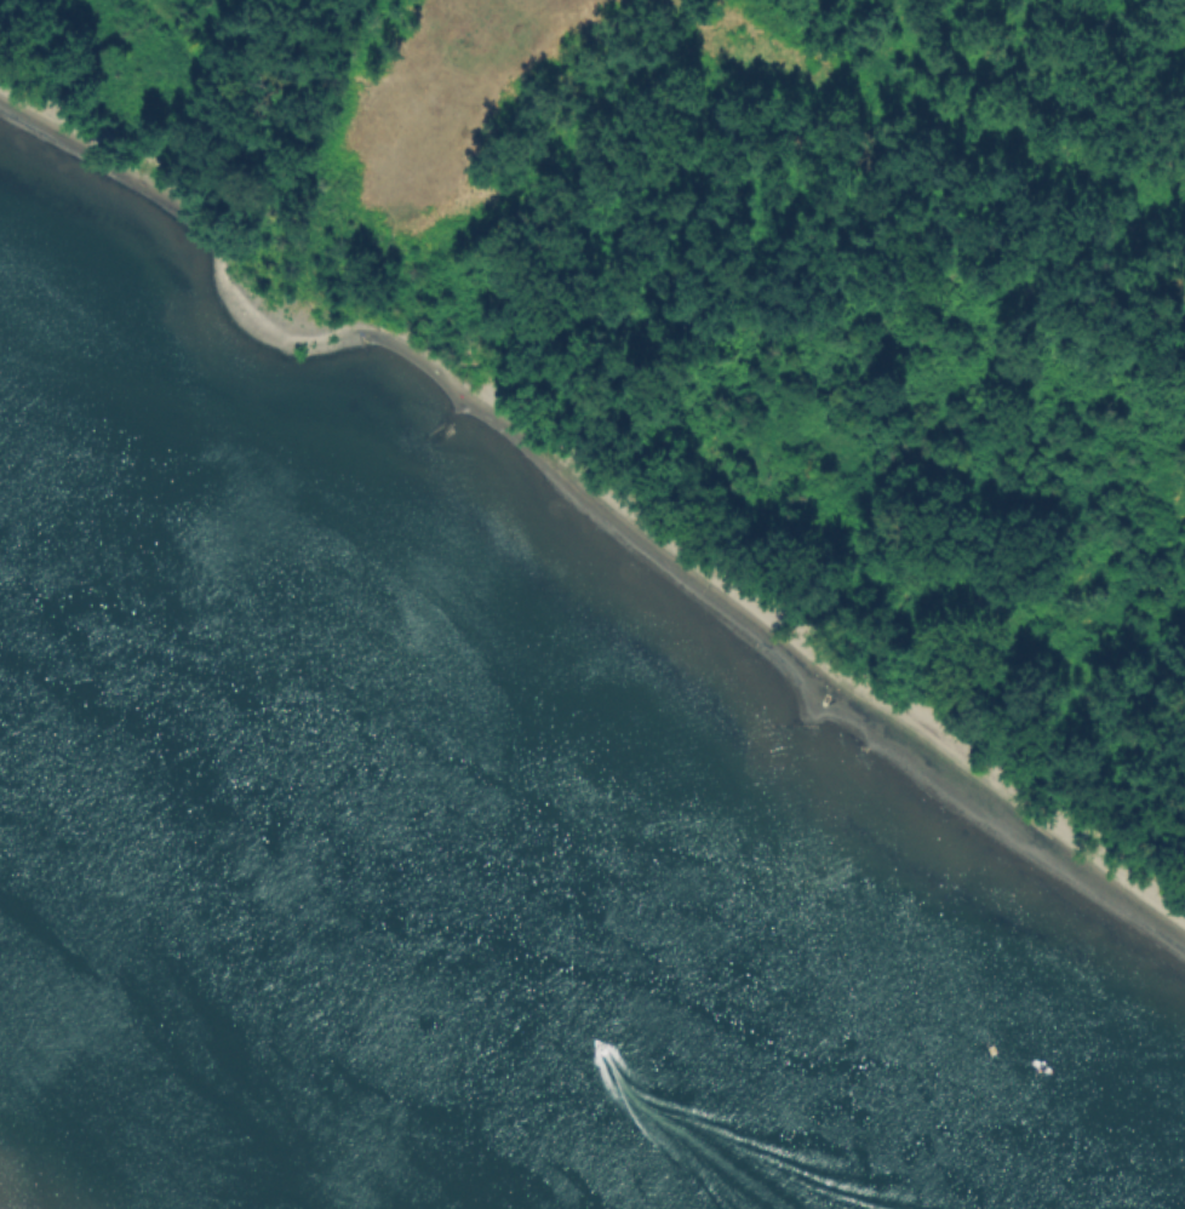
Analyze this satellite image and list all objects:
river: (348, 950)

